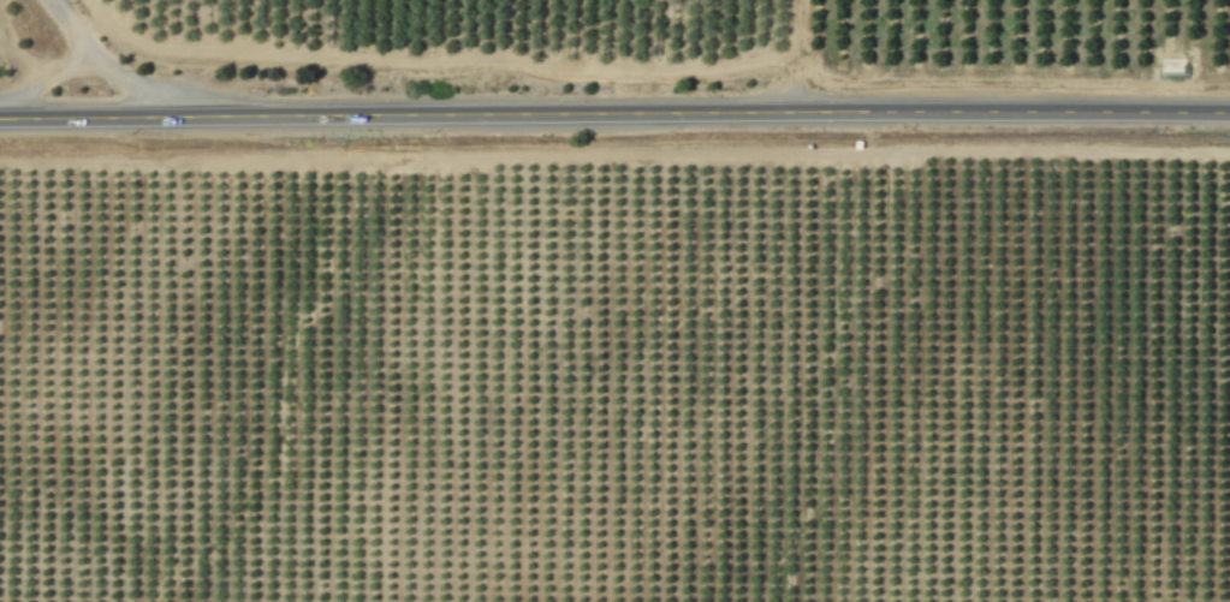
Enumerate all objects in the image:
road: (102, 65)
road: (46, 82)
road: (614, 113)

